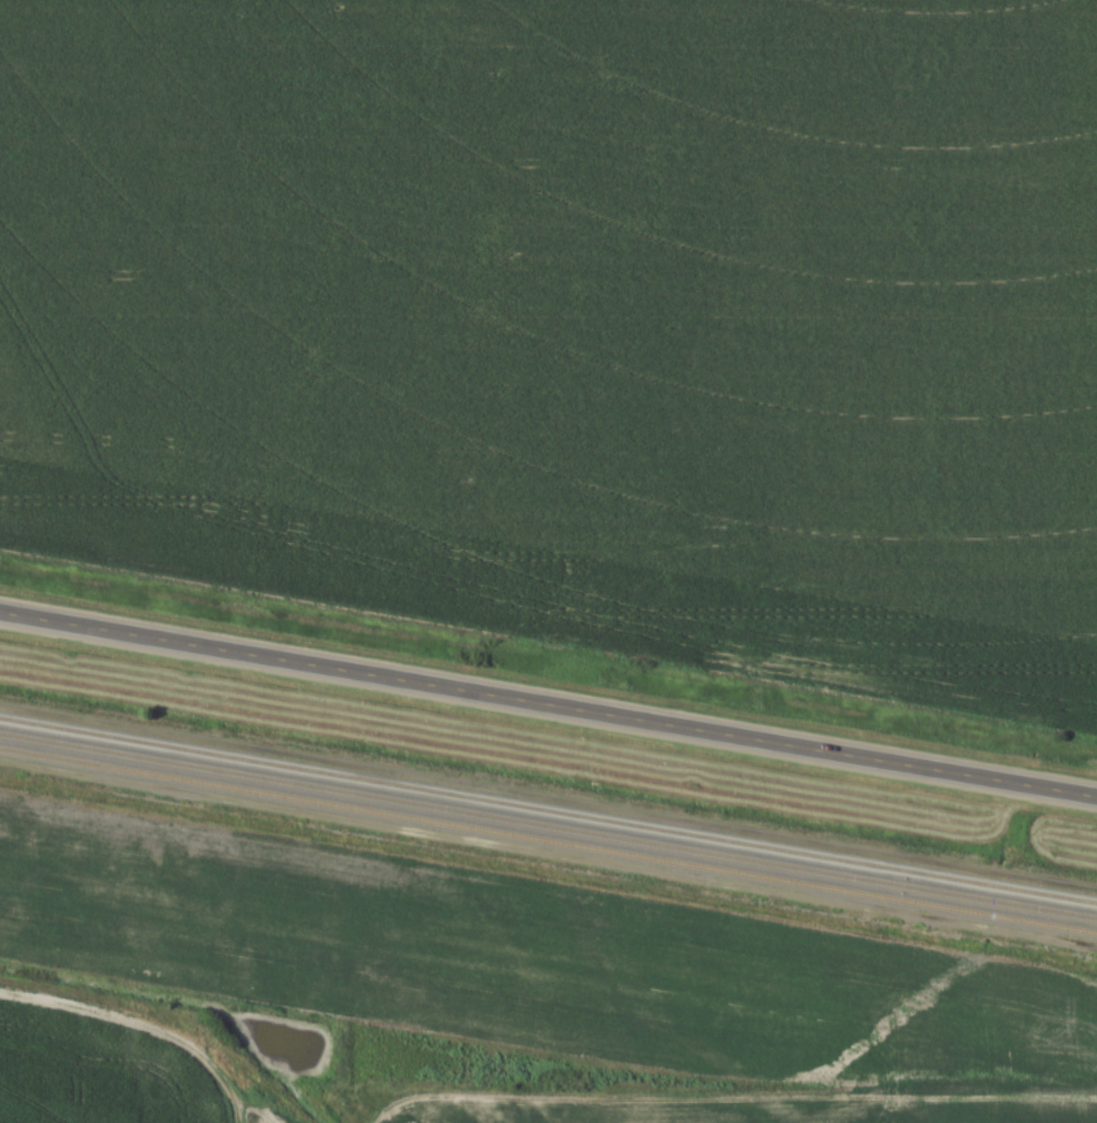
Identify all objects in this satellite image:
road: (548, 703)
railway: (548, 810)
railway: (548, 825)
railway: (548, 839)

